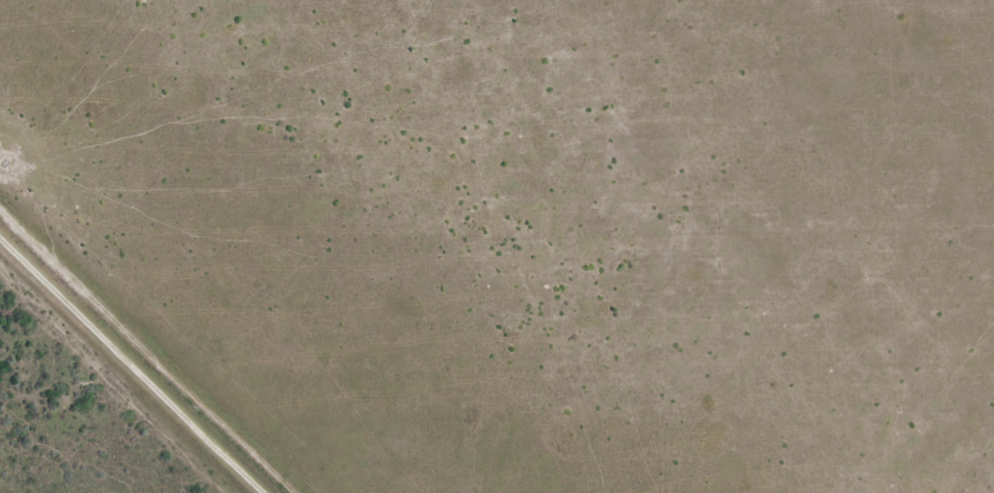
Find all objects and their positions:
road: (131, 366)

